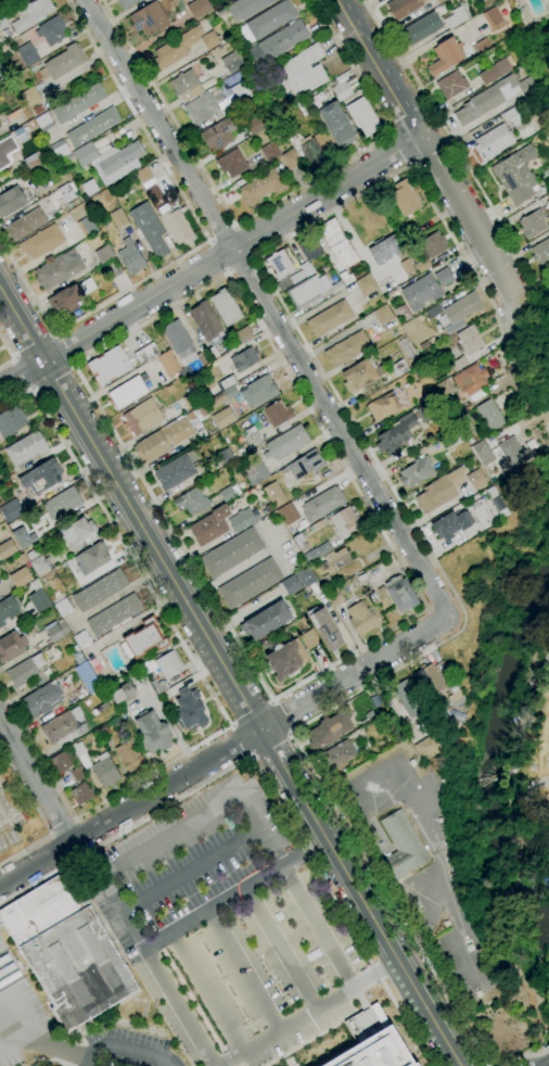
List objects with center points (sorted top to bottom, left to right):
building: (125, 3)
building: (197, 8)
building: (245, 8)
building: (403, 8)
building: (31, 14)
building: (456, 16)
building: (491, 16)
building: (150, 18)
building: (2, 22)
building: (267, 22)
building: (421, 28)
building: (51, 30)
building: (209, 40)
building: (277, 43)
building: (480, 46)
building: (176, 48)
building: (26, 53)
building: (445, 56)
building: (62, 62)
building: (231, 63)
building: (0, 67)
road: (380, 68)
building: (302, 72)
building: (494, 72)
building: (451, 85)
building: (184, 86)
building: (341, 91)
building: (241, 92)
building: (28, 97)
building: (493, 98)
building: (78, 103)
building: (203, 106)
building: (512, 116)
building: (363, 117)
building: (43, 122)
building: (258, 123)
building: (336, 125)
building: (92, 127)
building: (219, 134)
road: (392, 134)
road: (451, 140)
building: (493, 142)
road: (399, 148)
building: (298, 149)
building: (60, 150)
building: (7, 151)
building: (269, 152)
building: (108, 160)
building: (29, 162)
road: (408, 162)
building: (231, 163)
building: (516, 175)
building: (143, 176)
building: (547, 182)
building: (263, 186)
building: (89, 188)
building: (116, 192)
building: (405, 198)
building: (56, 199)
building: (11, 202)
road: (266, 205)
building: (118, 217)
building: (25, 225)
building: (532, 225)
building: (87, 226)
road: (233, 226)
building: (176, 227)
road: (473, 227)
road: (222, 234)
building: (153, 240)
road: (209, 241)
building: (40, 242)
road: (204, 242)
road: (241, 242)
building: (336, 244)
building: (431, 244)
building: (308, 246)
building: (385, 248)
building: (540, 252)
building: (103, 254)
road: (219, 255)
building: (130, 257)
road: (252, 257)
road: (239, 263)
road: (212, 264)
building: (279, 265)
building: (422, 265)
building: (407, 267)
building: (306, 268)
building: (112, 269)
building: (58, 270)
road: (227, 270)
road: (225, 272)
building: (296, 277)
building: (443, 277)
building: (365, 284)
building: (310, 290)
building: (420, 292)
building: (69, 297)
road: (268, 306)
building: (226, 307)
building: (462, 308)
building: (382, 314)
building: (329, 319)
building: (204, 320)
road: (53, 334)
building: (243, 334)
building: (177, 339)
building: (470, 340)
road: (33, 346)
building: (347, 350)
road: (61, 351)
road: (9, 353)
building: (212, 353)
building: (145, 354)
road: (13, 356)
building: (202, 358)
building: (244, 359)
building: (167, 363)
building: (459, 364)
road: (71, 365)
building: (108, 366)
road: (319, 367)
building: (398, 368)
road: (22, 371)
building: (360, 375)
road: (50, 376)
building: (470, 382)
building: (226, 383)
road: (31, 388)
building: (444, 388)
building: (258, 392)
building: (127, 393)
building: (222, 396)
building: (191, 399)
building: (383, 406)
building: (201, 413)
building: (489, 415)
building: (278, 417)
building: (142, 418)
building: (224, 418)
building: (11, 420)
building: (464, 421)
building: (395, 435)
building: (165, 437)
building: (254, 441)
building: (285, 443)
building: (26, 448)
building: (483, 453)
building: (510, 455)
building: (222, 457)
building: (303, 466)
building: (176, 471)
building: (255, 471)
building: (416, 472)
building: (41, 475)
building: (475, 479)
building: (439, 491)
building: (273, 493)
building: (191, 500)
building: (497, 502)
building: (62, 504)
building: (322, 504)
building: (10, 511)
building: (288, 513)
building: (243, 519)
building: (345, 521)
building: (451, 524)
building: (208, 526)
building: (78, 534)
building: (23, 537)
building: (298, 538)
building: (7, 549)
building: (231, 553)
building: (317, 554)
building: (91, 558)
building: (339, 558)
building: (39, 563)
building: (20, 578)
building: (305, 578)
building: (250, 583)
building: (291, 585)
building: (99, 591)
building: (400, 594)
building: (333, 596)
building: (38, 597)
building: (63, 607)
building: (9, 609)
building: (114, 614)
building: (361, 620)
building: (266, 621)
building: (324, 630)
building: (58, 632)
building: (145, 637)
building: (81, 639)
building: (308, 639)
building: (11, 646)
building: (78, 658)
building: (285, 659)
building: (168, 664)
building: (146, 667)
building: (24, 672)
road: (229, 676)
building: (87, 677)
building: (430, 681)
road: (203, 682)
building: (158, 686)
building: (122, 694)
building: (406, 698)
building: (43, 699)
road: (270, 701)
building: (189, 710)
road: (251, 714)
road: (279, 719)
building: (63, 725)
road: (230, 725)
building: (102, 731)
building: (329, 731)
building: (152, 734)
road: (290, 734)
road: (241, 740)
road: (269, 745)
building: (423, 748)
road: (225, 752)
building: (129, 756)
building: (337, 757)
road: (251, 758)
river: (494, 758)
building: (61, 762)
building: (105, 771)
building: (78, 774)
park: (540, 777)
road: (36, 781)
road: (267, 787)
building: (80, 794)
road: (38, 815)
road: (74, 818)
road: (62, 827)
road: (50, 834)
road: (173, 835)
building: (403, 846)
road: (190, 870)
road: (233, 893)
road: (387, 900)
building: (42, 908)
parking lot: (225, 927)
road: (278, 948)
building: (78, 968)
road: (242, 969)
road: (203, 992)
parking lot: (18, 1010)
road: (305, 1012)
road: (43, 1043)
parking lot: (124, 1049)
road: (126, 1049)
road: (547, 1049)
building: (376, 1051)
road: (522, 1055)
road: (59, 1061)
road: (88, 1062)

